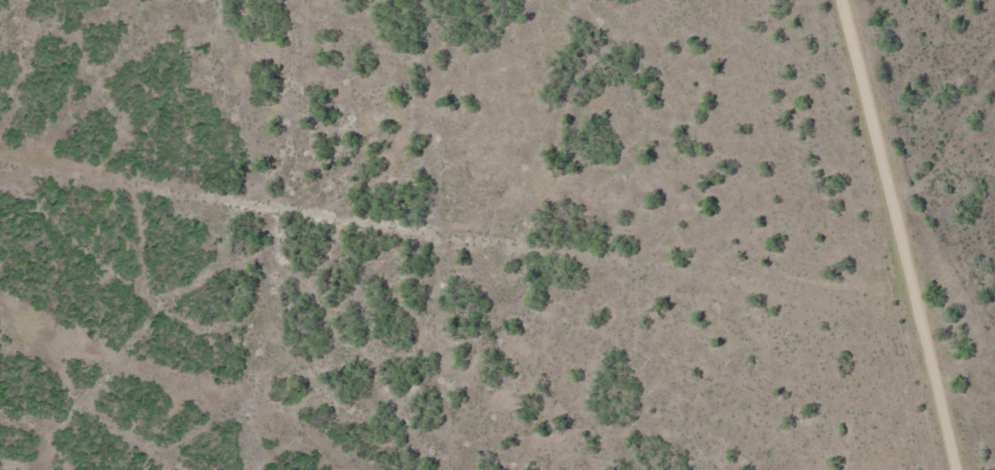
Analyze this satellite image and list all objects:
road: (900, 234)

